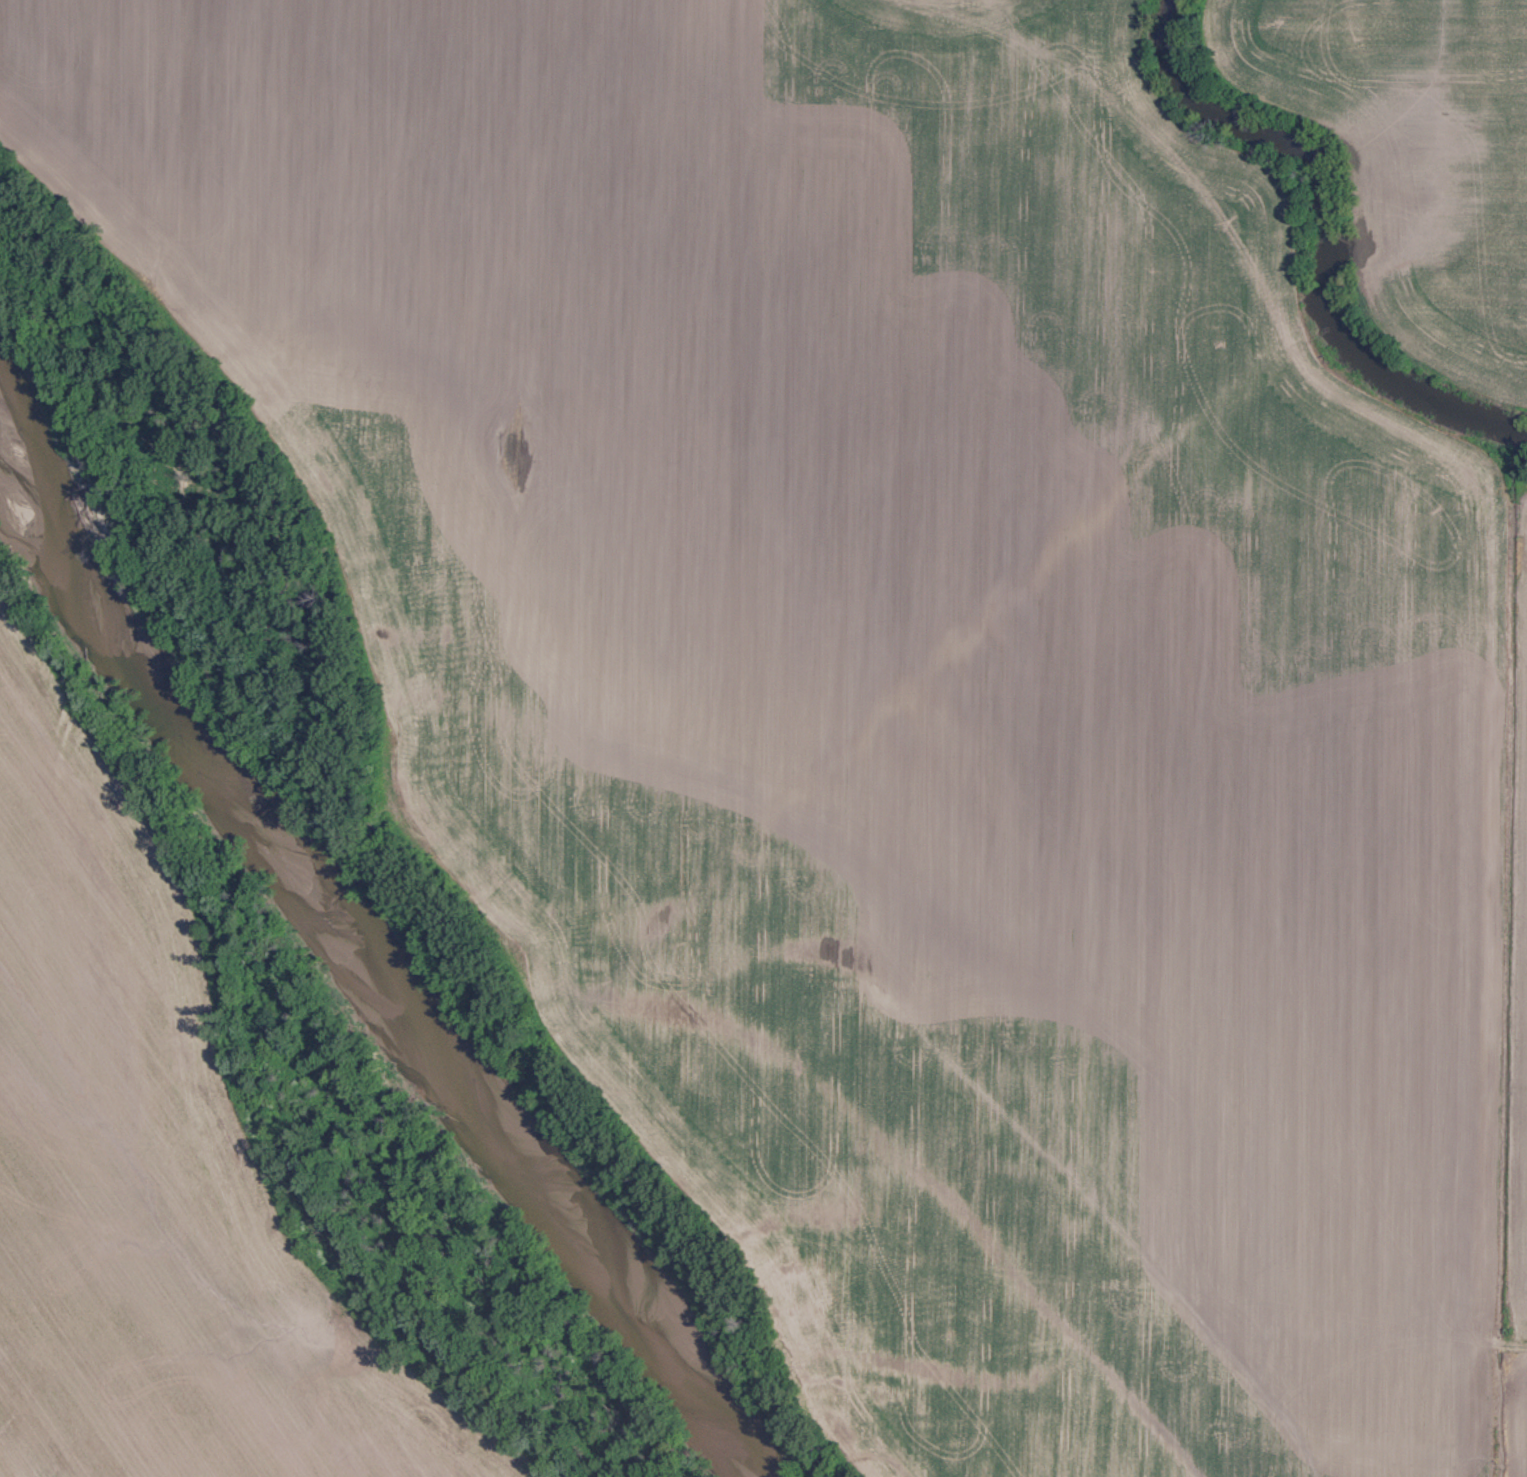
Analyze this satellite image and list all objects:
river: (375, 974)

